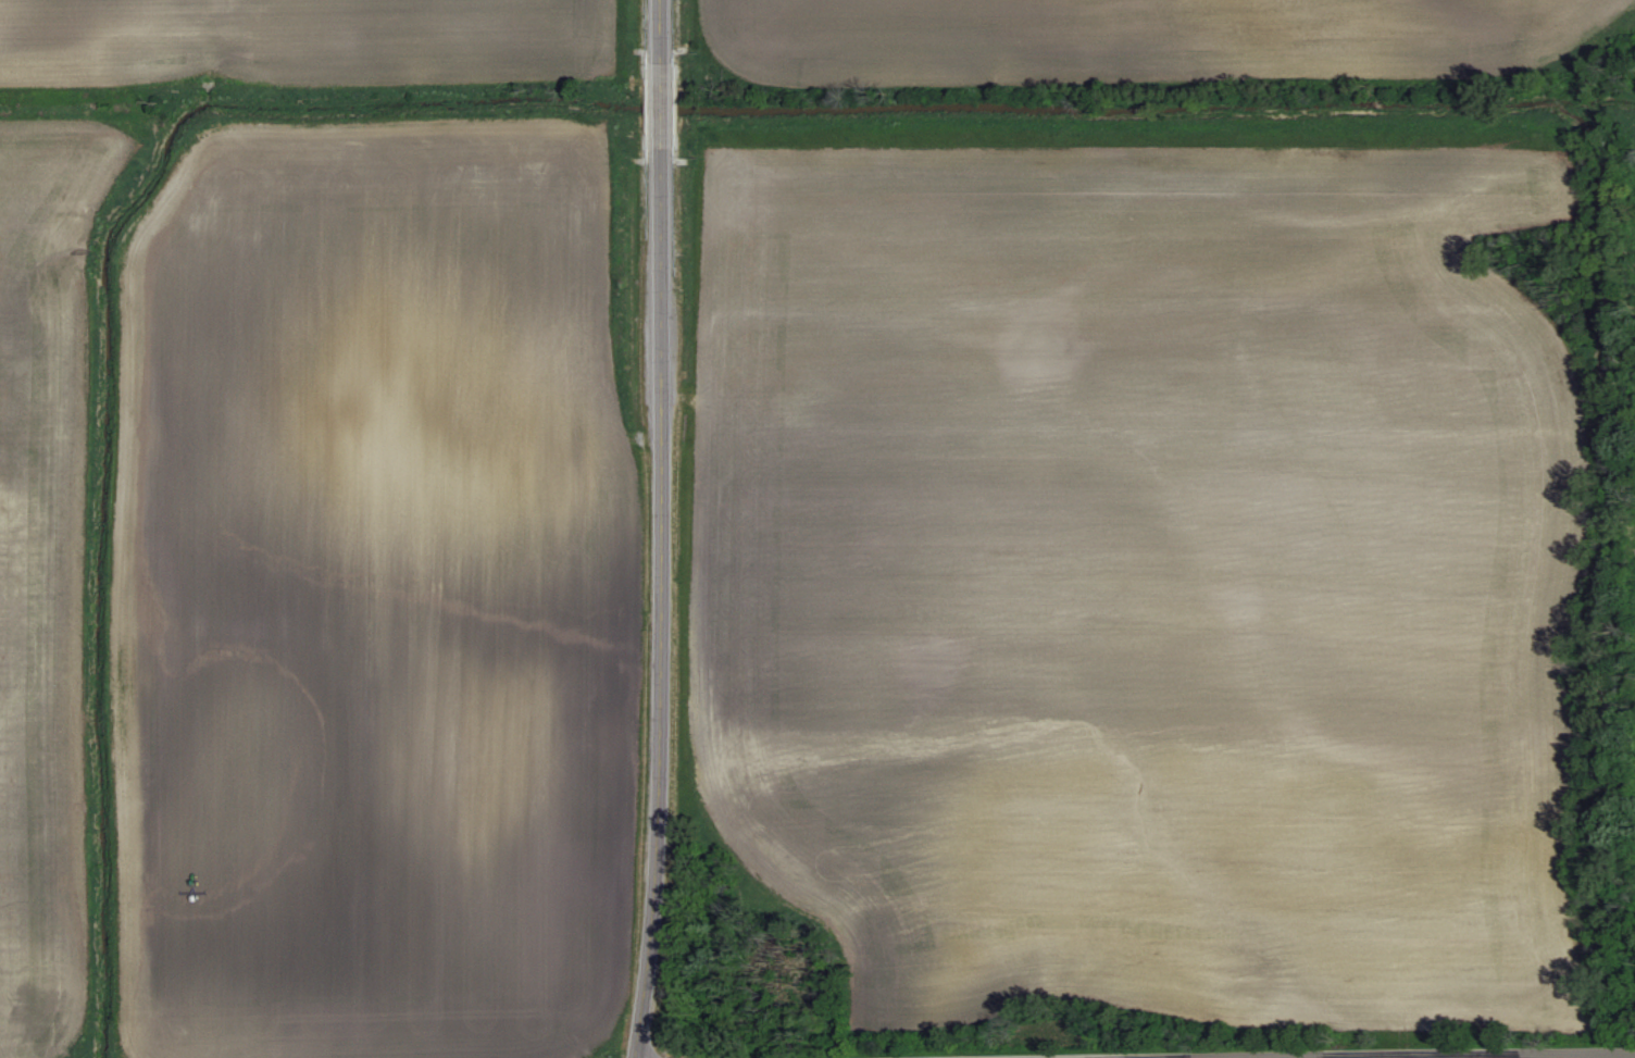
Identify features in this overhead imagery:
road: (657, 528)
road: (1443, 1056)

